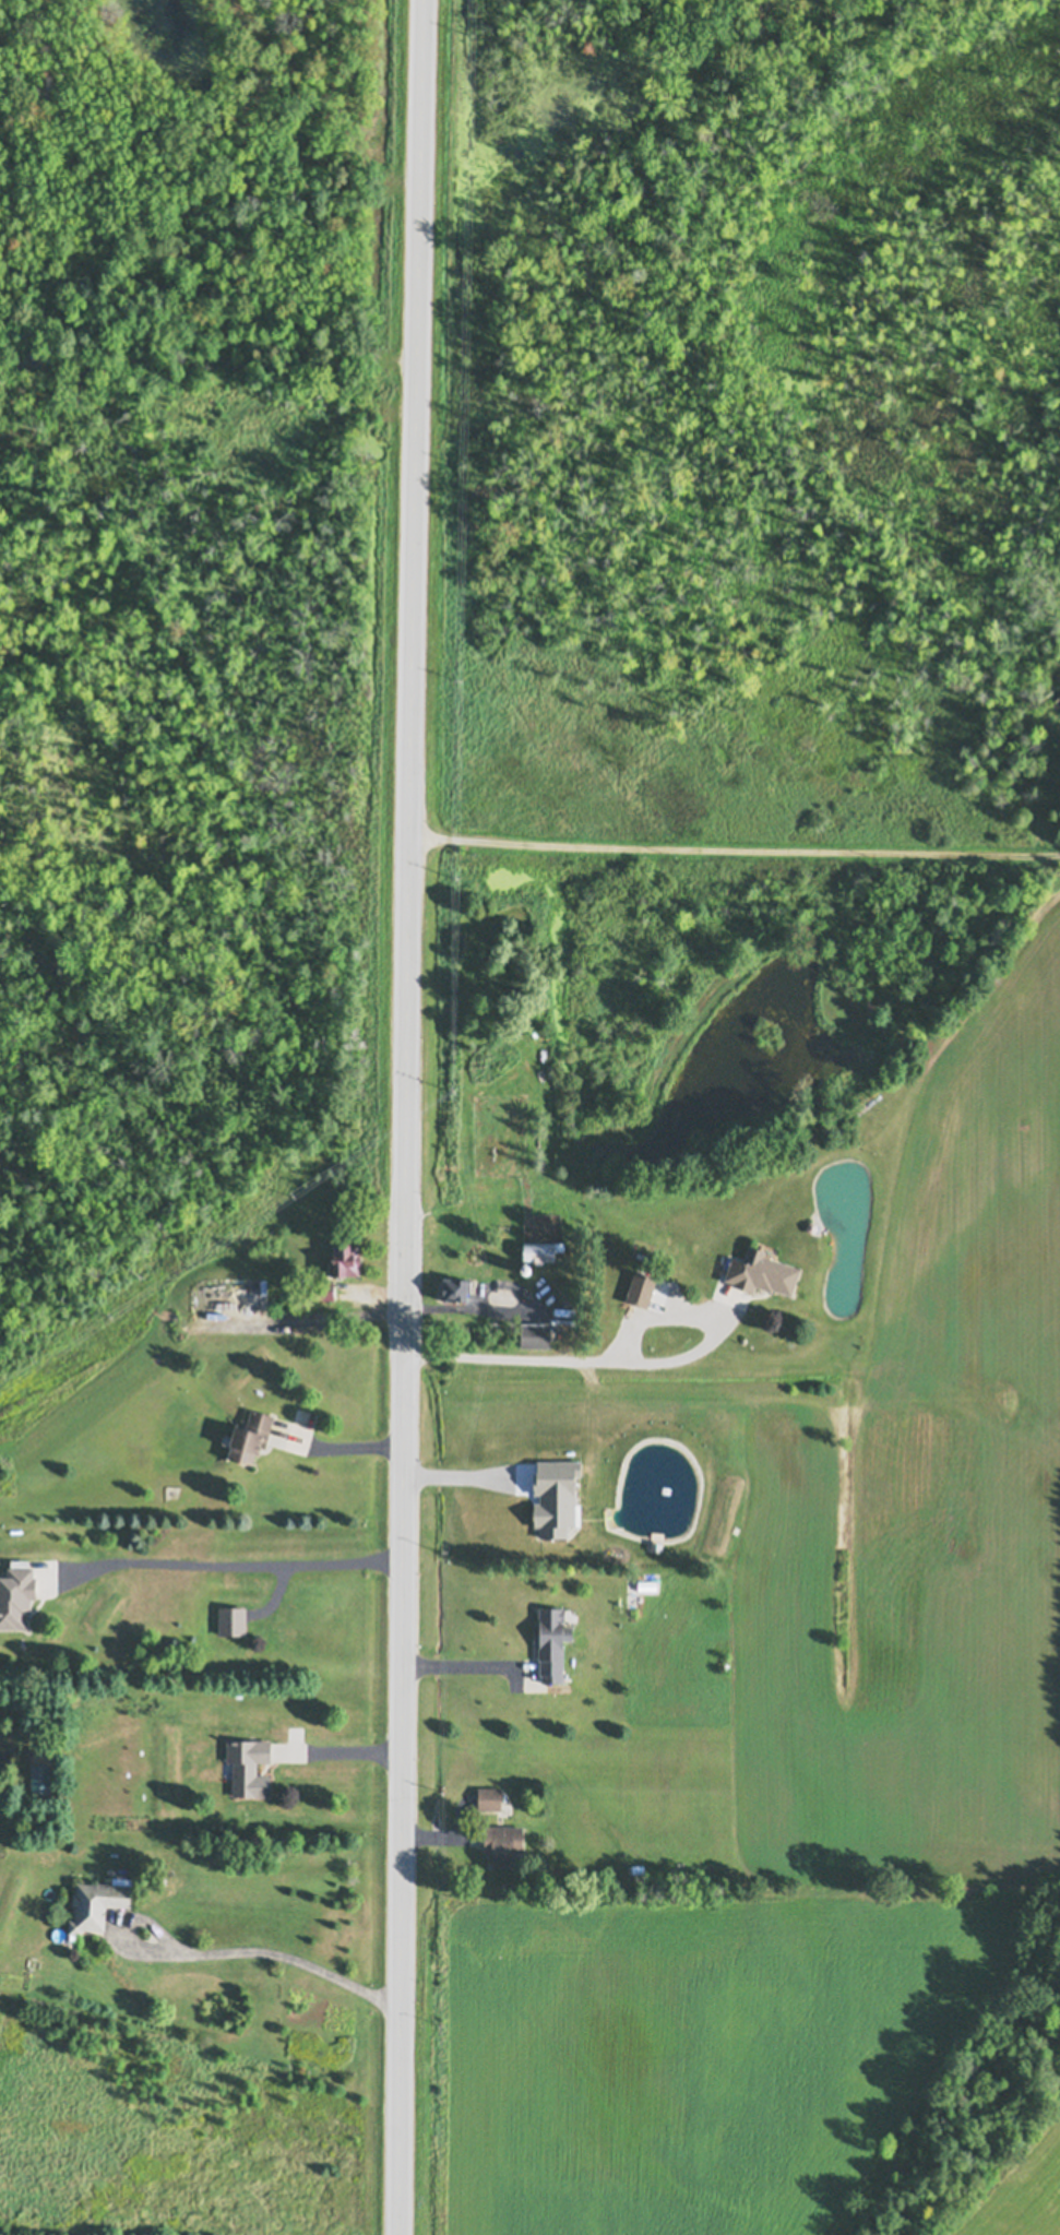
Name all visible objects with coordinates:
road: (731, 842)
building: (534, 1001)
road: (406, 1117)
building: (811, 1224)
building: (538, 1248)
building: (345, 1256)
building: (525, 1268)
building: (761, 1269)
building: (455, 1284)
building: (641, 1285)
building: (324, 1287)
building: (656, 1304)
road: (495, 1308)
building: (535, 1332)
road: (577, 1355)
building: (250, 1434)
road: (340, 1440)
road: (458, 1474)
road: (228, 1559)
building: (646, 1583)
building: (16, 1594)
building: (231, 1618)
building: (551, 1640)
road: (462, 1662)
building: (460, 1671)
building: (17, 1702)
road: (340, 1750)
building: (249, 1764)
building: (489, 1796)
building: (502, 1842)
building: (638, 1867)
building: (96, 1902)
road: (212, 1952)

